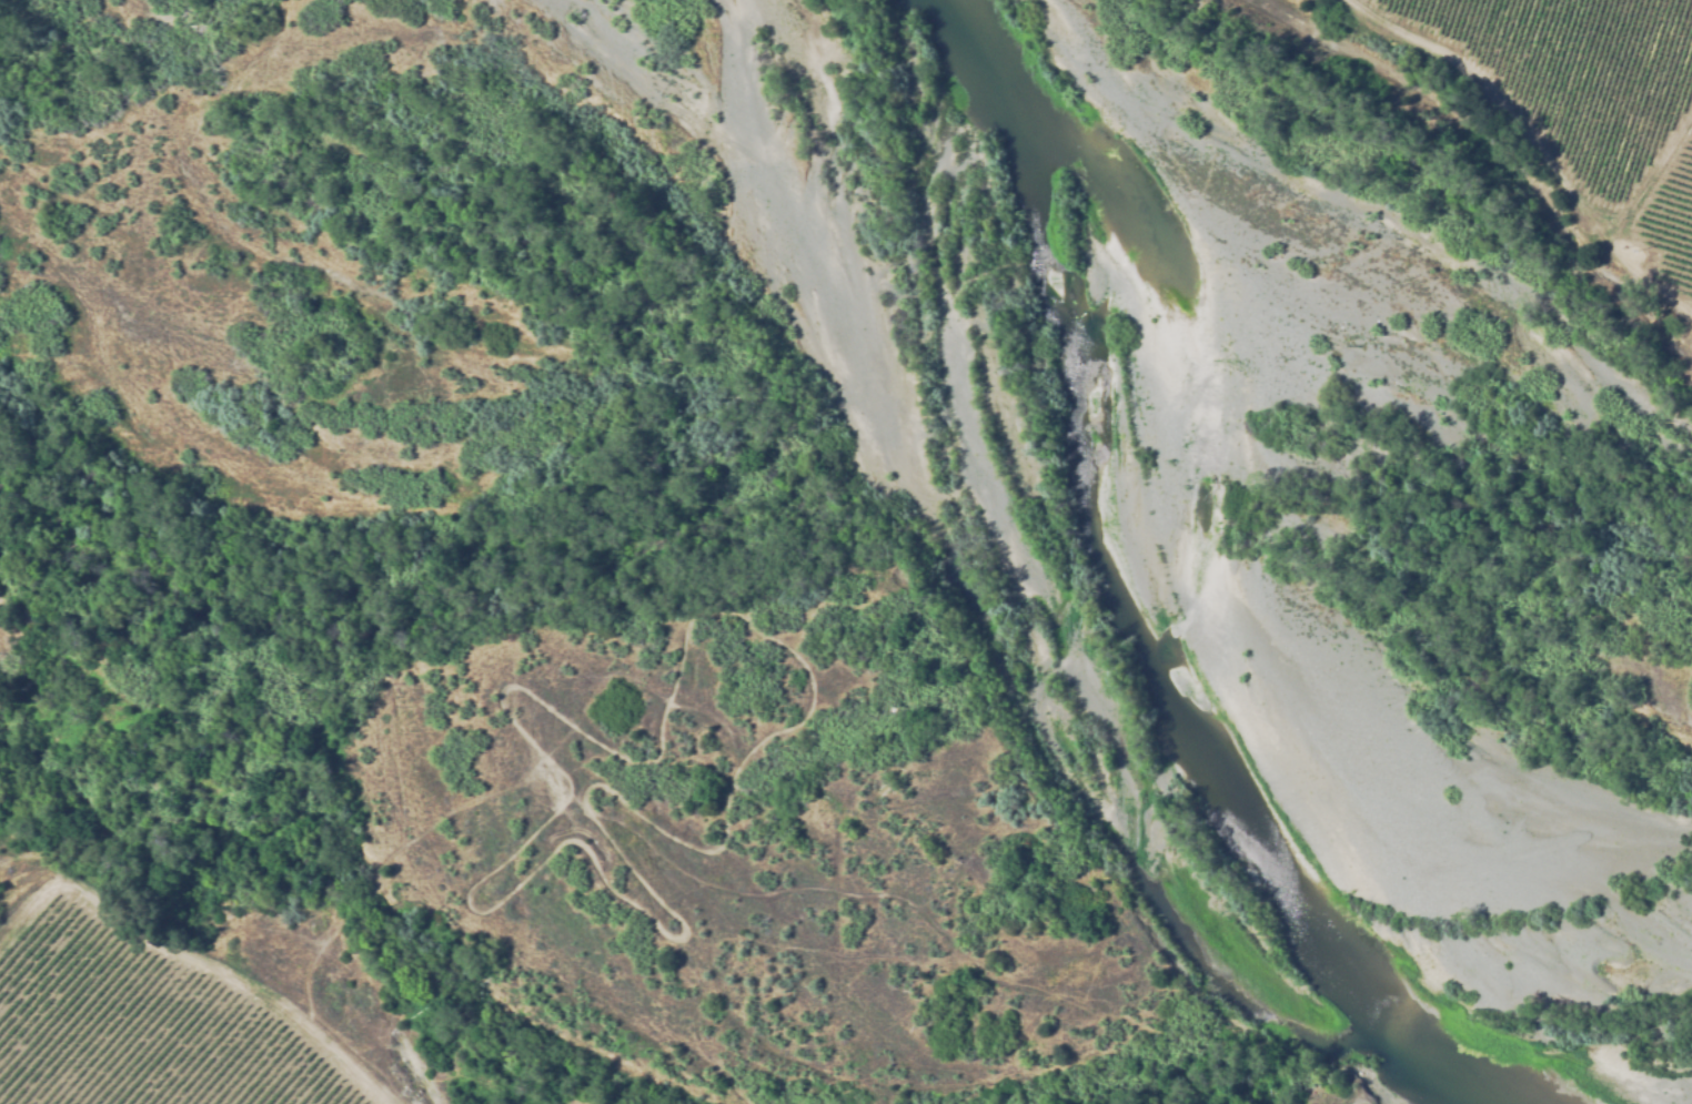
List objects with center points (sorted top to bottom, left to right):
river: (1059, 550)

